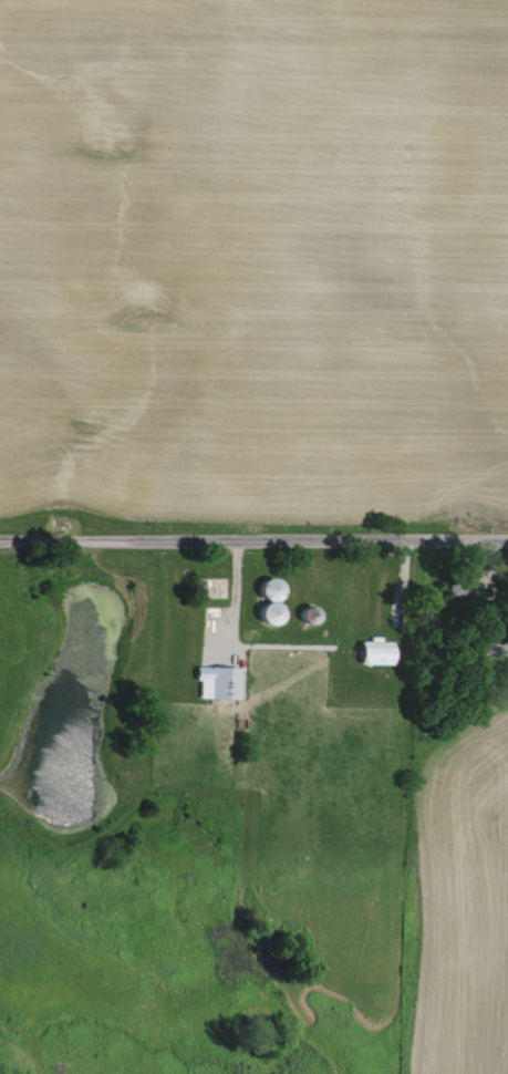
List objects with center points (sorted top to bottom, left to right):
road: (253, 545)
building: (265, 600)
building: (489, 643)
building: (371, 650)
building: (214, 681)

